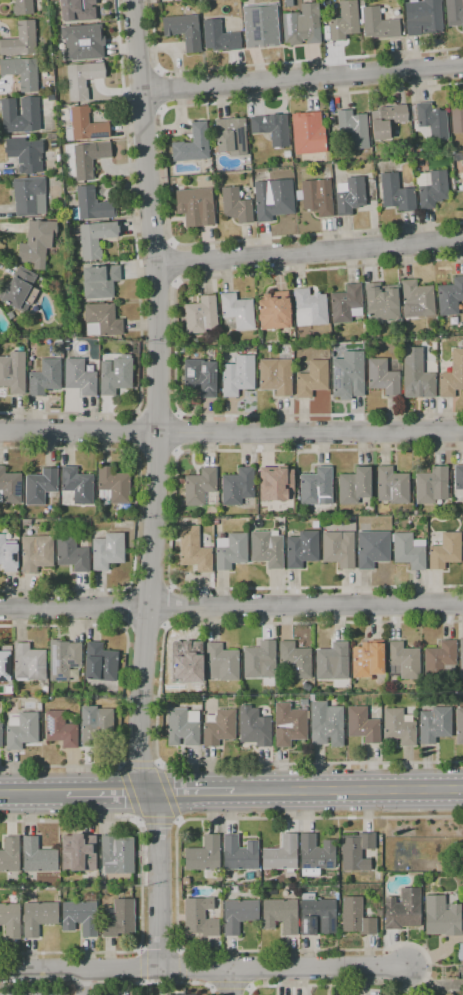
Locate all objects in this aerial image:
building: (164, 1)
building: (275, 2)
building: (361, 3)
building: (22, 7)
building: (71, 10)
building: (454, 12)
building: (424, 17)
building: (345, 21)
building: (378, 24)
building: (263, 28)
building: (184, 31)
building: (298, 31)
building: (220, 37)
building: (20, 40)
building: (80, 46)
road: (276, 62)
building: (22, 72)
road: (142, 76)
road: (303, 77)
building: (83, 79)
road: (164, 90)
building: (50, 98)
road: (144, 108)
building: (30, 111)
building: (457, 115)
building: (431, 119)
building: (387, 120)
building: (85, 126)
building: (354, 128)
building: (272, 129)
building: (305, 133)
building: (51, 136)
building: (231, 136)
building: (193, 145)
building: (25, 154)
building: (286, 154)
building: (89, 158)
road: (164, 171)
building: (462, 179)
building: (432, 189)
building: (396, 193)
building: (350, 195)
building: (29, 196)
building: (316, 196)
building: (273, 199)
building: (197, 202)
building: (236, 205)
building: (91, 206)
building: (95, 238)
building: (38, 243)
road: (309, 248)
road: (176, 263)
road: (137, 274)
building: (99, 281)
building: (18, 289)
building: (450, 296)
building: (417, 299)
building: (382, 301)
building: (347, 304)
building: (310, 308)
building: (237, 311)
building: (275, 311)
building: (10, 315)
building: (200, 315)
building: (102, 320)
building: (400, 323)
building: (373, 325)
building: (435, 343)
building: (333, 344)
road: (175, 346)
building: (58, 348)
building: (182, 348)
building: (66, 352)
building: (433, 359)
building: (13, 372)
building: (115, 375)
building: (452, 375)
building: (44, 376)
building: (276, 376)
building: (383, 376)
building: (80, 377)
building: (200, 377)
building: (347, 377)
building: (239, 378)
building: (418, 378)
building: (312, 379)
road: (157, 397)
road: (157, 409)
road: (137, 432)
road: (179, 433)
road: (231, 434)
road: (156, 454)
building: (458, 477)
building: (78, 485)
building: (355, 485)
building: (392, 485)
building: (431, 485)
building: (40, 486)
building: (238, 486)
building: (10, 487)
building: (114, 487)
building: (200, 487)
building: (276, 487)
building: (317, 487)
building: (300, 514)
road: (136, 516)
building: (215, 521)
road: (170, 522)
building: (281, 523)
building: (315, 524)
building: (462, 539)
building: (372, 548)
building: (195, 549)
building: (267, 549)
building: (302, 549)
building: (339, 549)
building: (231, 550)
building: (445, 550)
building: (108, 551)
building: (409, 551)
building: (36, 553)
building: (71, 553)
building: (8, 554)
road: (150, 586)
road: (169, 606)
road: (231, 607)
road: (125, 608)
road: (145, 628)
building: (461, 652)
building: (258, 659)
building: (295, 659)
building: (368, 659)
building: (330, 660)
building: (440, 660)
building: (403, 661)
building: (187, 662)
building: (222, 662)
building: (28, 663)
building: (65, 663)
building: (100, 663)
building: (5, 666)
building: (52, 689)
road: (125, 690)
road: (159, 697)
building: (30, 705)
building: (327, 723)
building: (434, 724)
building: (362, 725)
building: (183, 726)
building: (399, 726)
building: (459, 726)
building: (98, 727)
building: (219, 727)
building: (254, 728)
building: (291, 728)
building: (60, 729)
building: (21, 730)
building: (1, 734)
road: (116, 760)
road: (159, 763)
road: (138, 764)
road: (348, 790)
road: (130, 791)
road: (168, 792)
road: (190, 792)
road: (106, 793)
road: (33, 794)
road: (156, 820)
road: (136, 821)
road: (179, 823)
building: (356, 852)
building: (78, 853)
building: (239, 853)
building: (117, 854)
building: (204, 854)
building: (282, 854)
building: (10, 855)
building: (315, 855)
building: (37, 858)
road: (158, 880)
building: (186, 881)
road: (141, 886)
building: (230, 888)
building: (403, 909)
building: (379, 912)
building: (239, 914)
building: (280, 915)
building: (317, 915)
building: (200, 916)
building: (441, 916)
building: (38, 917)
building: (80, 917)
building: (356, 917)
building: (119, 918)
building: (10, 920)
road: (178, 949)
road: (140, 950)
road: (205, 950)
road: (158, 951)
building: (460, 952)
road: (181, 964)
road: (141, 965)
road: (319, 968)
road: (156, 969)
road: (40, 971)
road: (181, 981)
road: (82, 982)
road: (142, 982)
road: (231, 982)
road: (108, 983)
road: (229, 985)
road: (210, 986)
road: (249, 987)
parking lot: (74, 993)
building: (190, 994)
building: (449, 994)

